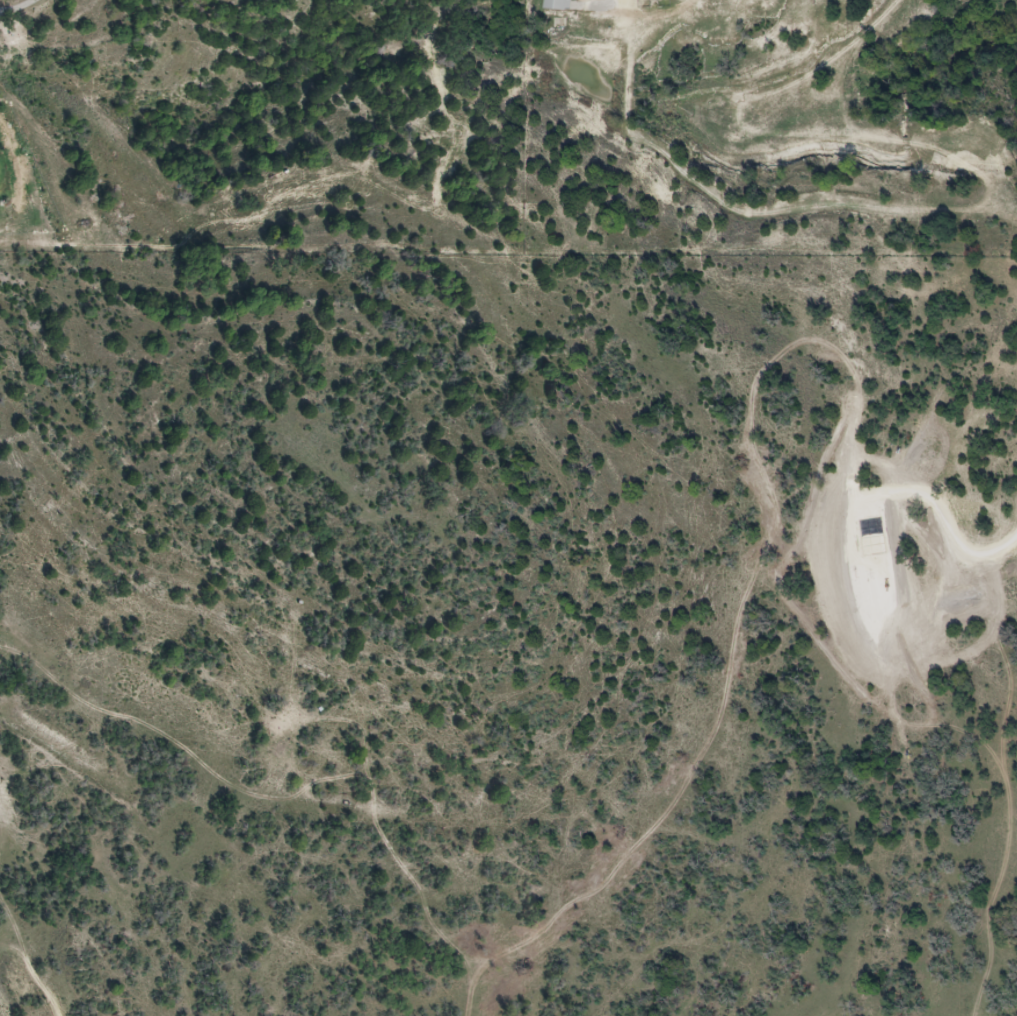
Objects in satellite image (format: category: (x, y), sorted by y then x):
building: (561, 4)
road: (17, 7)

